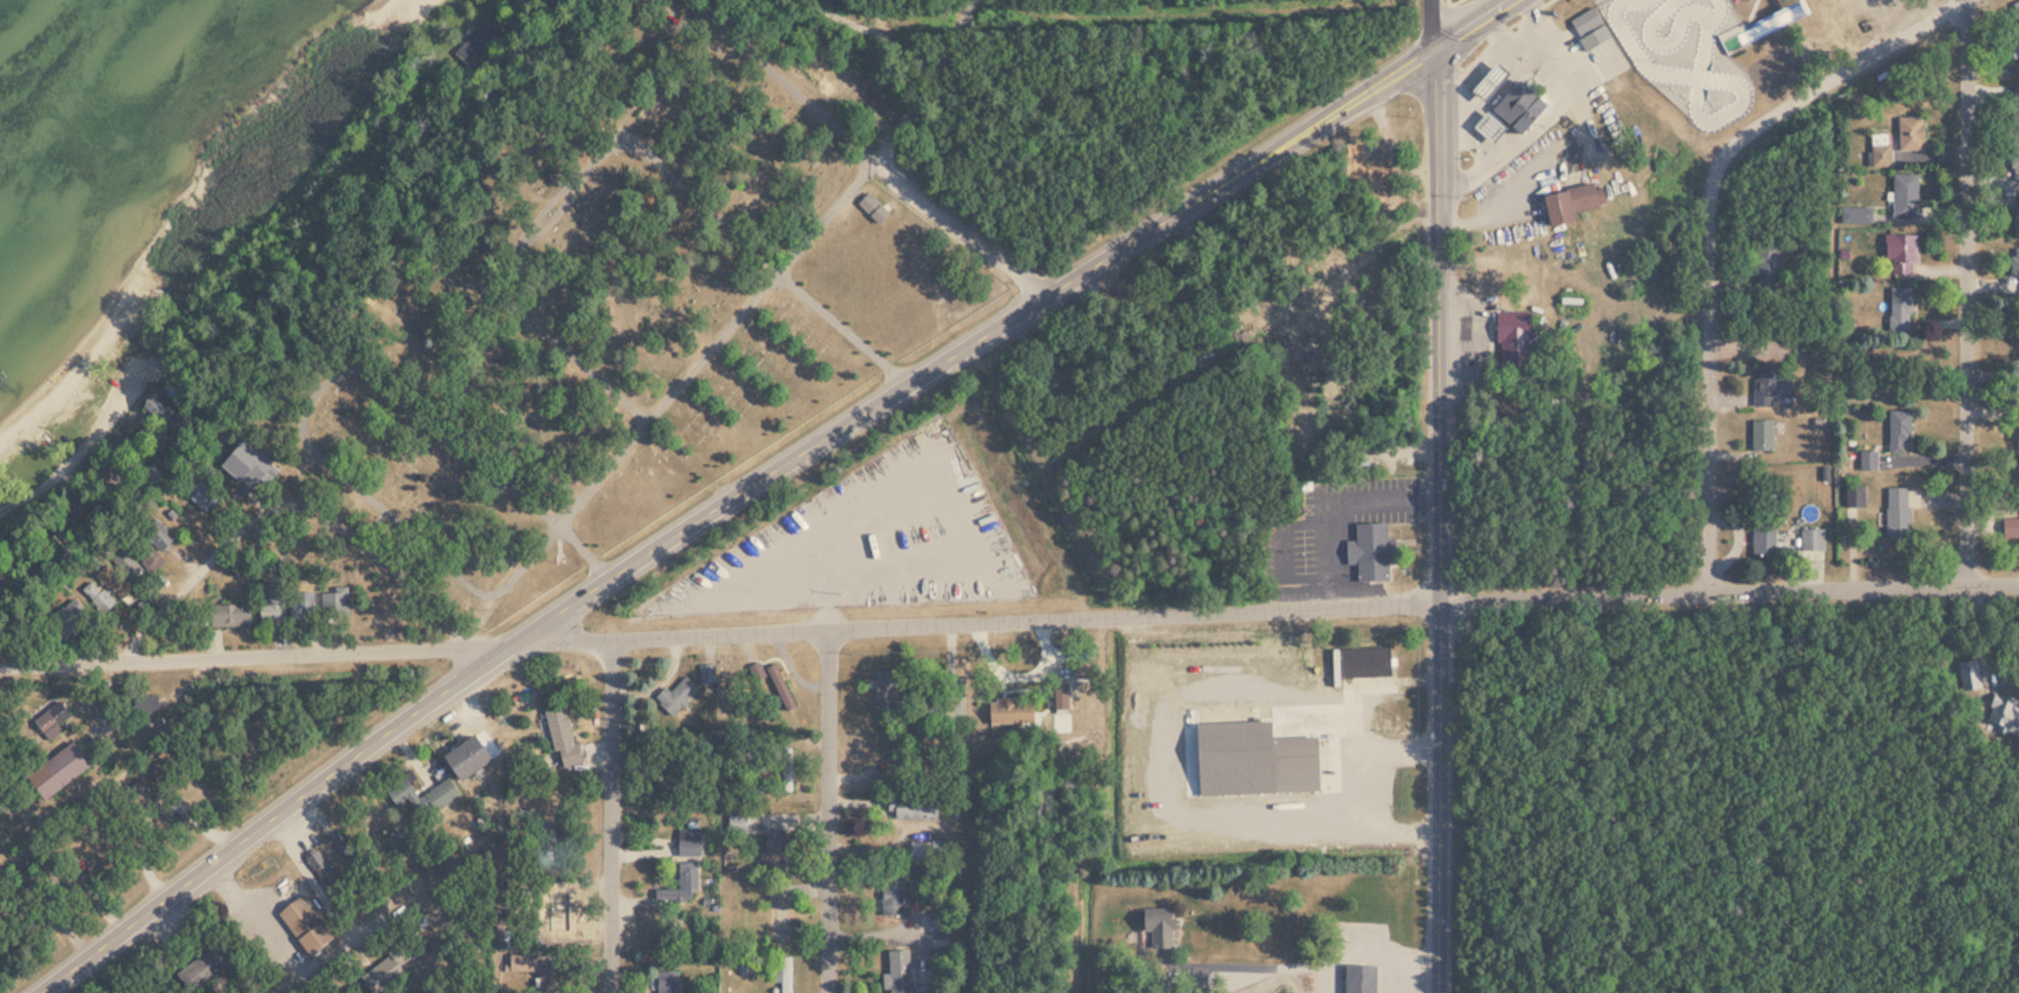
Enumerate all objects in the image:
road: (1455, 4)
building: (1765, 4)
building: (2015, 8)
road: (1434, 24)
building: (1760, 25)
building: (1587, 28)
building: (2014, 45)
building: (1760, 72)
road: (920, 76)
road: (1836, 77)
road: (781, 79)
building: (1485, 81)
building: (1519, 107)
building: (2014, 111)
building: (1484, 127)
building: (1908, 133)
road: (619, 141)
building: (1878, 149)
road: (877, 155)
building: (2015, 160)
building: (1904, 195)
building: (1567, 201)
building: (868, 203)
building: (2016, 221)
road: (969, 223)
building: (1898, 253)
building: (1764, 259)
building: (2015, 265)
road: (1974, 288)
park: (621, 308)
building: (1898, 308)
road: (1019, 319)
building: (1511, 332)
road: (688, 374)
road: (1714, 379)
building: (1767, 385)
road: (318, 391)
building: (1896, 430)
building: (1760, 435)
road: (81, 453)
building: (1866, 459)
building: (254, 464)
road: (262, 493)
building: (1852, 493)
building: (201, 494)
road: (1326, 500)
building: (1895, 512)
road: (1436, 520)
building: (2010, 527)
building: (155, 532)
building: (1810, 538)
building: (1762, 539)
road: (29, 546)
road: (1275, 546)
building: (1365, 550)
road: (588, 552)
road: (378, 557)
building: (130, 561)
road: (201, 580)
building: (116, 585)
building: (96, 595)
building: (301, 606)
building: (270, 611)
road: (32, 615)
building: (225, 615)
road: (1071, 617)
building: (67, 621)
road: (62, 659)
building: (1361, 662)
road: (1364, 683)
building: (774, 685)
building: (886, 691)
building: (676, 695)
building: (145, 708)
building: (2001, 713)
building: (47, 724)
building: (559, 734)
building: (1290, 756)
building: (461, 757)
building: (787, 767)
building: (55, 770)
building: (136, 789)
building: (419, 791)
road: (1330, 791)
building: (911, 808)
road: (828, 809)
road: (288, 814)
road: (612, 814)
building: (688, 842)
building: (773, 843)
building: (546, 847)
building: (918, 850)
building: (682, 888)
building: (1270, 890)
building: (890, 897)
building: (784, 918)
building: (302, 922)
building: (1153, 927)
building: (517, 962)
building: (209, 964)
building: (394, 966)
building: (896, 973)
building: (781, 975)
building: (548, 976)
building: (1357, 979)
building: (666, 982)

